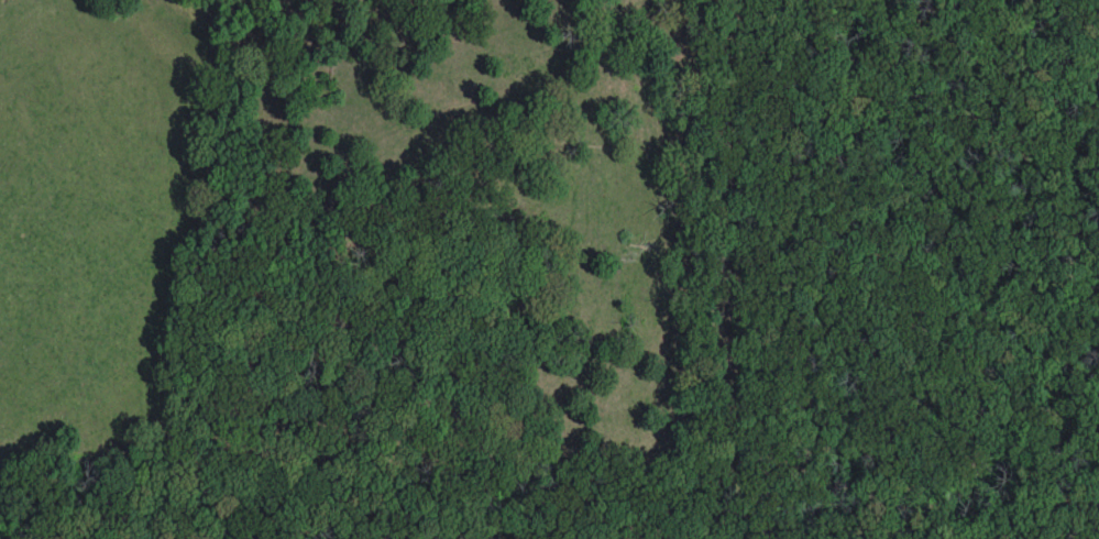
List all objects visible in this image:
road: (1075, 499)

